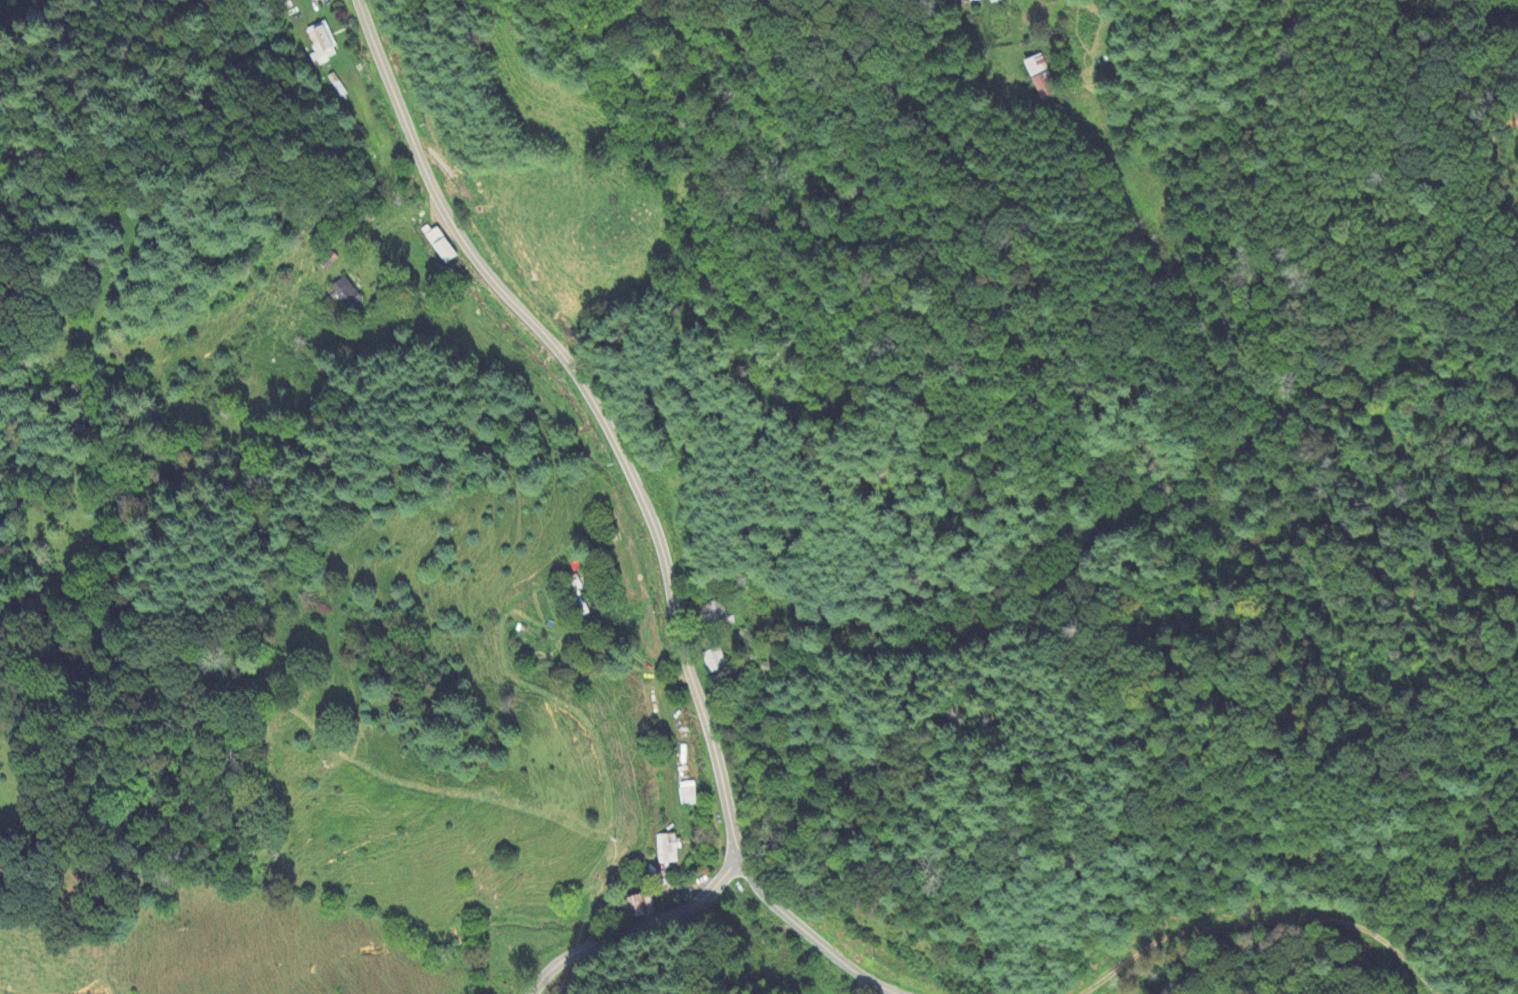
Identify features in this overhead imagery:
road: (32, 21)
building: (321, 43)
building: (1040, 78)
building: (342, 295)
road: (596, 409)
building: (710, 664)
building: (665, 847)
building: (638, 906)
road: (632, 927)
road: (813, 940)

